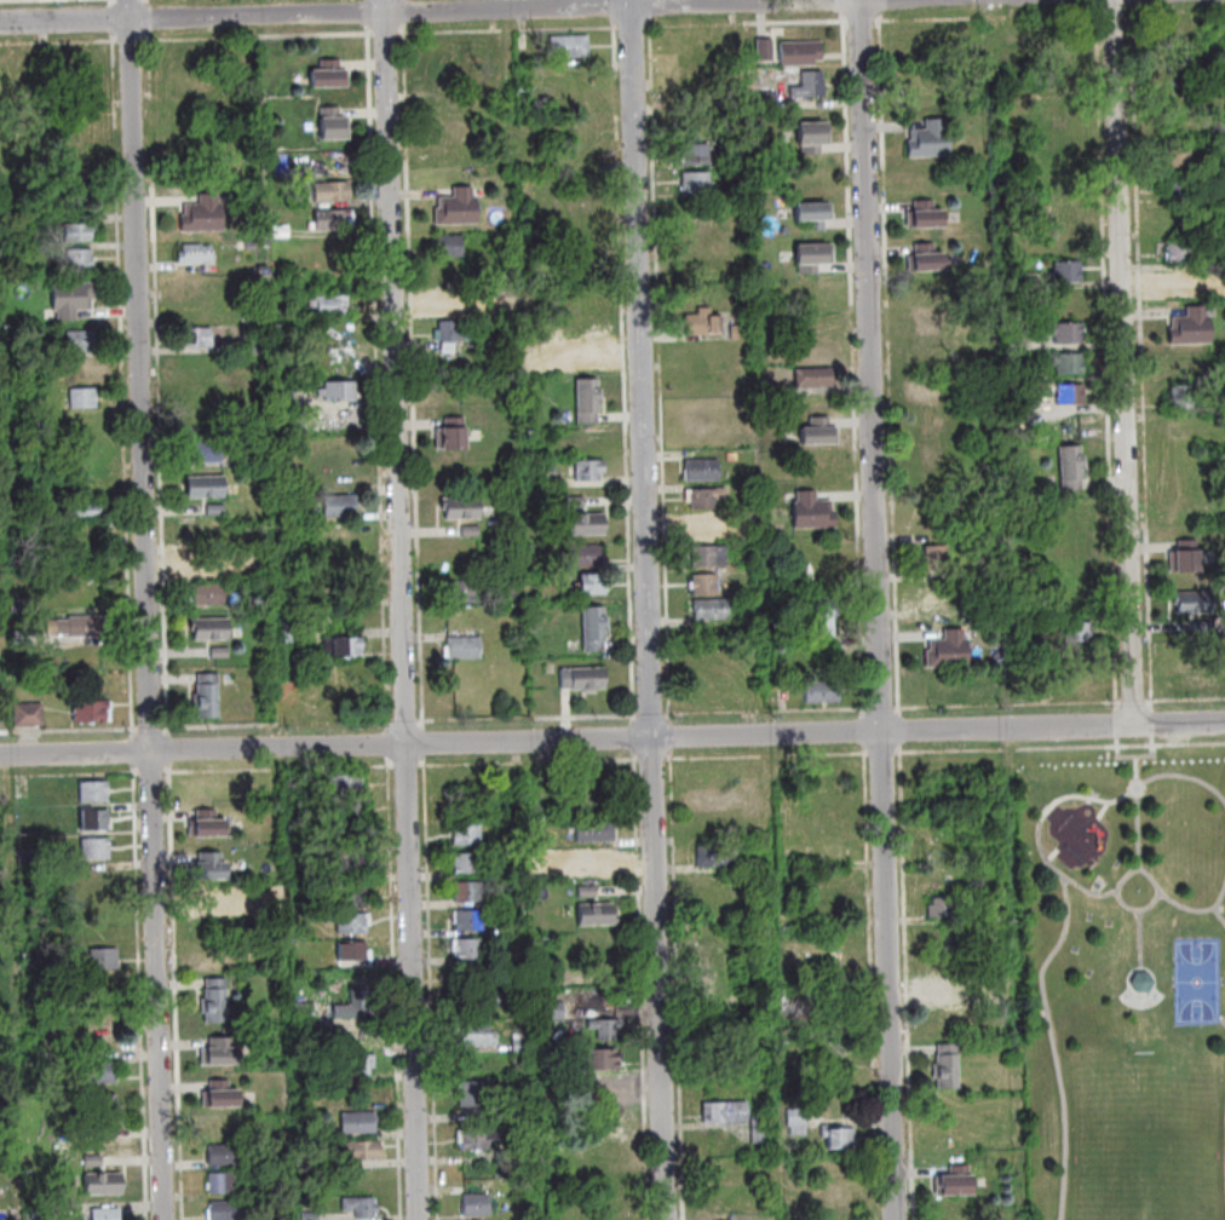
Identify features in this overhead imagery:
road: (2, 0)
road: (1098, 1)
road: (149, 2)
road: (1134, 2)
road: (114, 4)
road: (882, 7)
road: (430, 10)
road: (650, 10)
road: (615, 11)
road: (406, 12)
road: (1177, 12)
road: (369, 13)
road: (1115, 13)
road: (149, 18)
road: (989, 18)
road: (114, 19)
road: (862, 22)
road: (746, 23)
road: (633, 28)
road: (510, 30)
road: (389, 34)
road: (260, 38)
road: (132, 41)
road: (61, 42)
building: (570, 48)
building: (765, 52)
building: (189, 53)
building: (801, 54)
building: (443, 65)
building: (330, 76)
building: (810, 87)
building: (1179, 91)
building: (767, 102)
building: (335, 126)
building: (812, 139)
building: (931, 143)
building: (696, 154)
building: (1179, 157)
building: (697, 183)
building: (1180, 189)
building: (333, 192)
building: (458, 211)
building: (815, 215)
building: (205, 217)
building: (926, 218)
building: (335, 219)
building: (10, 228)
building: (79, 232)
building: (278, 234)
building: (252, 246)
building: (450, 247)
building: (1181, 253)
building: (196, 255)
building: (813, 259)
building: (81, 260)
building: (926, 261)
building: (1217, 261)
building: (265, 269)
building: (1069, 272)
building: (304, 283)
building: (1030, 283)
building: (1184, 283)
building: (1220, 293)
building: (73, 300)
building: (453, 305)
building: (332, 306)
building: (703, 326)
building: (1194, 330)
building: (454, 332)
building: (741, 334)
building: (1066, 334)
building: (200, 340)
building: (82, 343)
building: (253, 346)
building: (1016, 346)
building: (40, 351)
road: (1108, 357)
building: (585, 358)
road: (855, 358)
road: (1143, 358)
road: (1126, 362)
road: (890, 366)
building: (1070, 366)
road: (662, 372)
road: (625, 373)
building: (1017, 378)
road: (379, 379)
road: (414, 379)
building: (815, 380)
road: (125, 385)
road: (160, 385)
building: (341, 392)
building: (773, 396)
building: (1071, 396)
building: (84, 398)
building: (1183, 399)
building: (588, 401)
building: (288, 402)
building: (1017, 404)
building: (928, 419)
building: (821, 435)
building: (452, 438)
building: (206, 454)
building: (732, 459)
building: (1071, 470)
building: (588, 472)
building: (703, 472)
building: (343, 476)
building: (207, 489)
building: (707, 499)
building: (576, 503)
building: (340, 507)
building: (461, 511)
building: (217, 512)
building: (86, 513)
building: (813, 514)
building: (738, 522)
building: (587, 526)
building: (704, 529)
building: (471, 533)
building: (588, 557)
building: (711, 557)
building: (936, 559)
building: (1186, 559)
building: (214, 569)
building: (335, 577)
building: (596, 586)
building: (706, 586)
building: (461, 593)
building: (763, 594)
building: (207, 597)
building: (258, 602)
building: (1195, 604)
building: (19, 608)
road: (148, 609)
road: (404, 609)
road: (879, 609)
road: (650, 610)
building: (712, 610)
building: (456, 612)
building: (826, 617)
building: (79, 628)
building: (594, 628)
building: (1204, 628)
building: (295, 633)
building: (1079, 633)
building: (214, 635)
building: (23, 639)
building: (345, 648)
building: (465, 650)
building: (949, 654)
building: (583, 681)
building: (1191, 687)
building: (823, 695)
building: (208, 698)
road: (1185, 701)
road: (1135, 703)
road: (1008, 706)
road: (882, 709)
road: (766, 712)
building: (94, 715)
road: (650, 715)
building: (29, 717)
road: (528, 719)
road: (407, 723)
road: (1154, 724)
road: (280, 725)
road: (1117, 725)
road: (153, 730)
road: (70, 731)
road: (901, 731)
road: (864, 732)
road: (671, 737)
road: (391, 738)
road: (612, 738)
road: (635, 738)
road: (169, 744)
road: (425, 744)
road: (134, 746)
road: (1059, 748)
road: (881, 753)
road: (767, 756)
road: (1134, 756)
road: (652, 760)
road: (529, 762)
road: (413, 765)
building: (344, 783)
building: (93, 790)
road: (1089, 801)
building: (351, 808)
road: (1104, 811)
road: (1138, 812)
building: (93, 818)
building: (206, 823)
building: (594, 830)
building: (466, 834)
building: (94, 847)
building: (715, 856)
road: (1053, 856)
building: (594, 859)
building: (350, 862)
building: (467, 863)
building: (547, 865)
building: (757, 865)
building: (207, 867)
building: (586, 891)
building: (468, 892)
road: (1089, 893)
building: (209, 897)
building: (349, 898)
road: (1221, 899)
building: (943, 907)
building: (995, 907)
road: (1185, 908)
road: (1145, 909)
building: (596, 914)
road: (1068, 914)
road: (1220, 914)
building: (470, 920)
building: (352, 922)
road: (1140, 940)
building: (470, 949)
building: (352, 951)
building: (103, 957)
road: (1140, 969)
building: (471, 977)
park: (1123, 980)
building: (1141, 982)
park: (1197, 982)
road: (870, 983)
road: (907, 983)
road: (677, 985)
road: (640, 986)
road: (431, 988)
building: (830, 994)
building: (947, 994)
building: (501, 996)
building: (214, 999)
building: (353, 1005)
building: (789, 1008)
building: (552, 1011)
building: (305, 1013)
road: (1223, 1020)
building: (605, 1029)
building: (475, 1032)
building: (522, 1046)
building: (218, 1051)
building: (599, 1059)
building: (356, 1064)
building: (947, 1067)
building: (100, 1071)
building: (219, 1094)
building: (472, 1099)
building: (765, 1107)
building: (724, 1111)
building: (107, 1115)
building: (796, 1121)
building: (357, 1122)
building: (760, 1129)
park: (1148, 1136)
building: (477, 1138)
building: (839, 1138)
building: (362, 1150)
building: (222, 1153)
building: (505, 1156)
building: (92, 1159)
building: (954, 1181)
building: (103, 1182)
building: (222, 1182)
building: (476, 1204)
building: (360, 1205)
building: (223, 1210)
building: (40, 1213)
building: (104, 1213)
building: (309, 1215)

